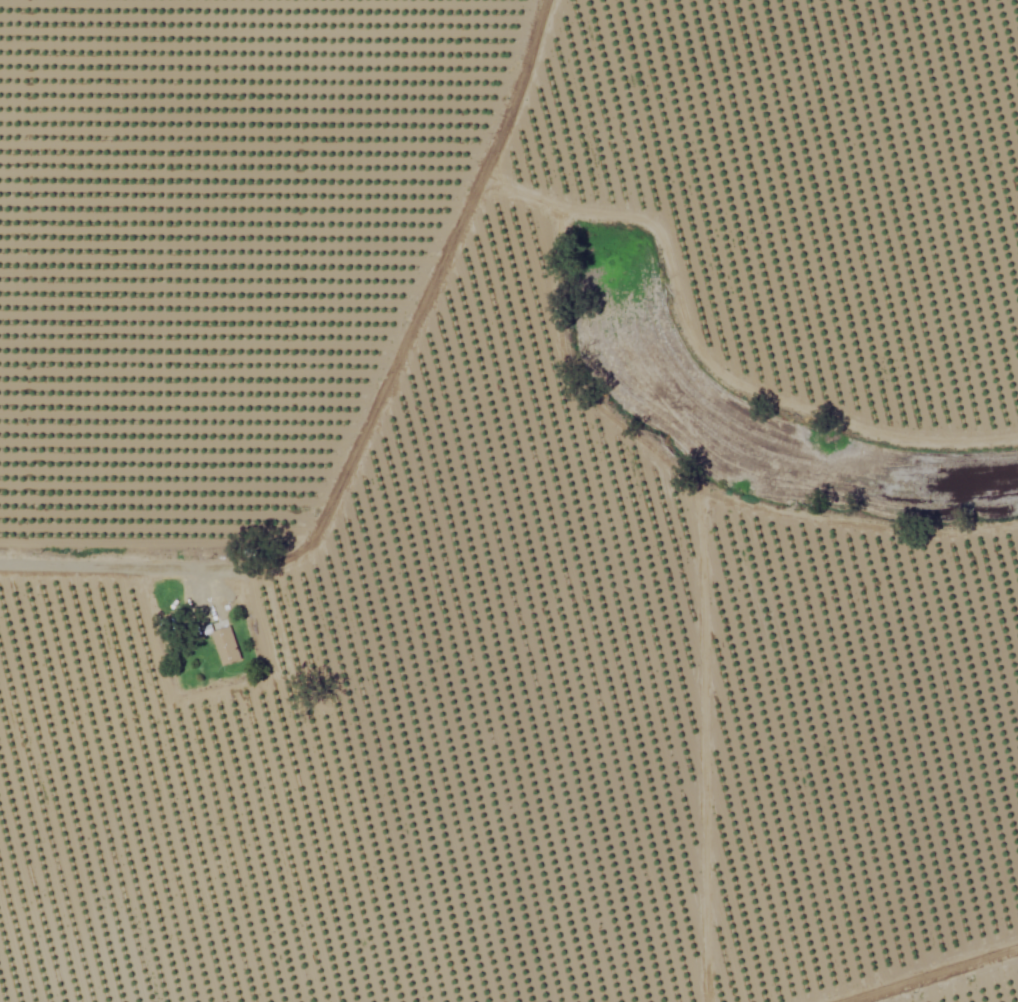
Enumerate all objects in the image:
road: (369, 417)
crop: (492, 512)
building: (227, 645)

